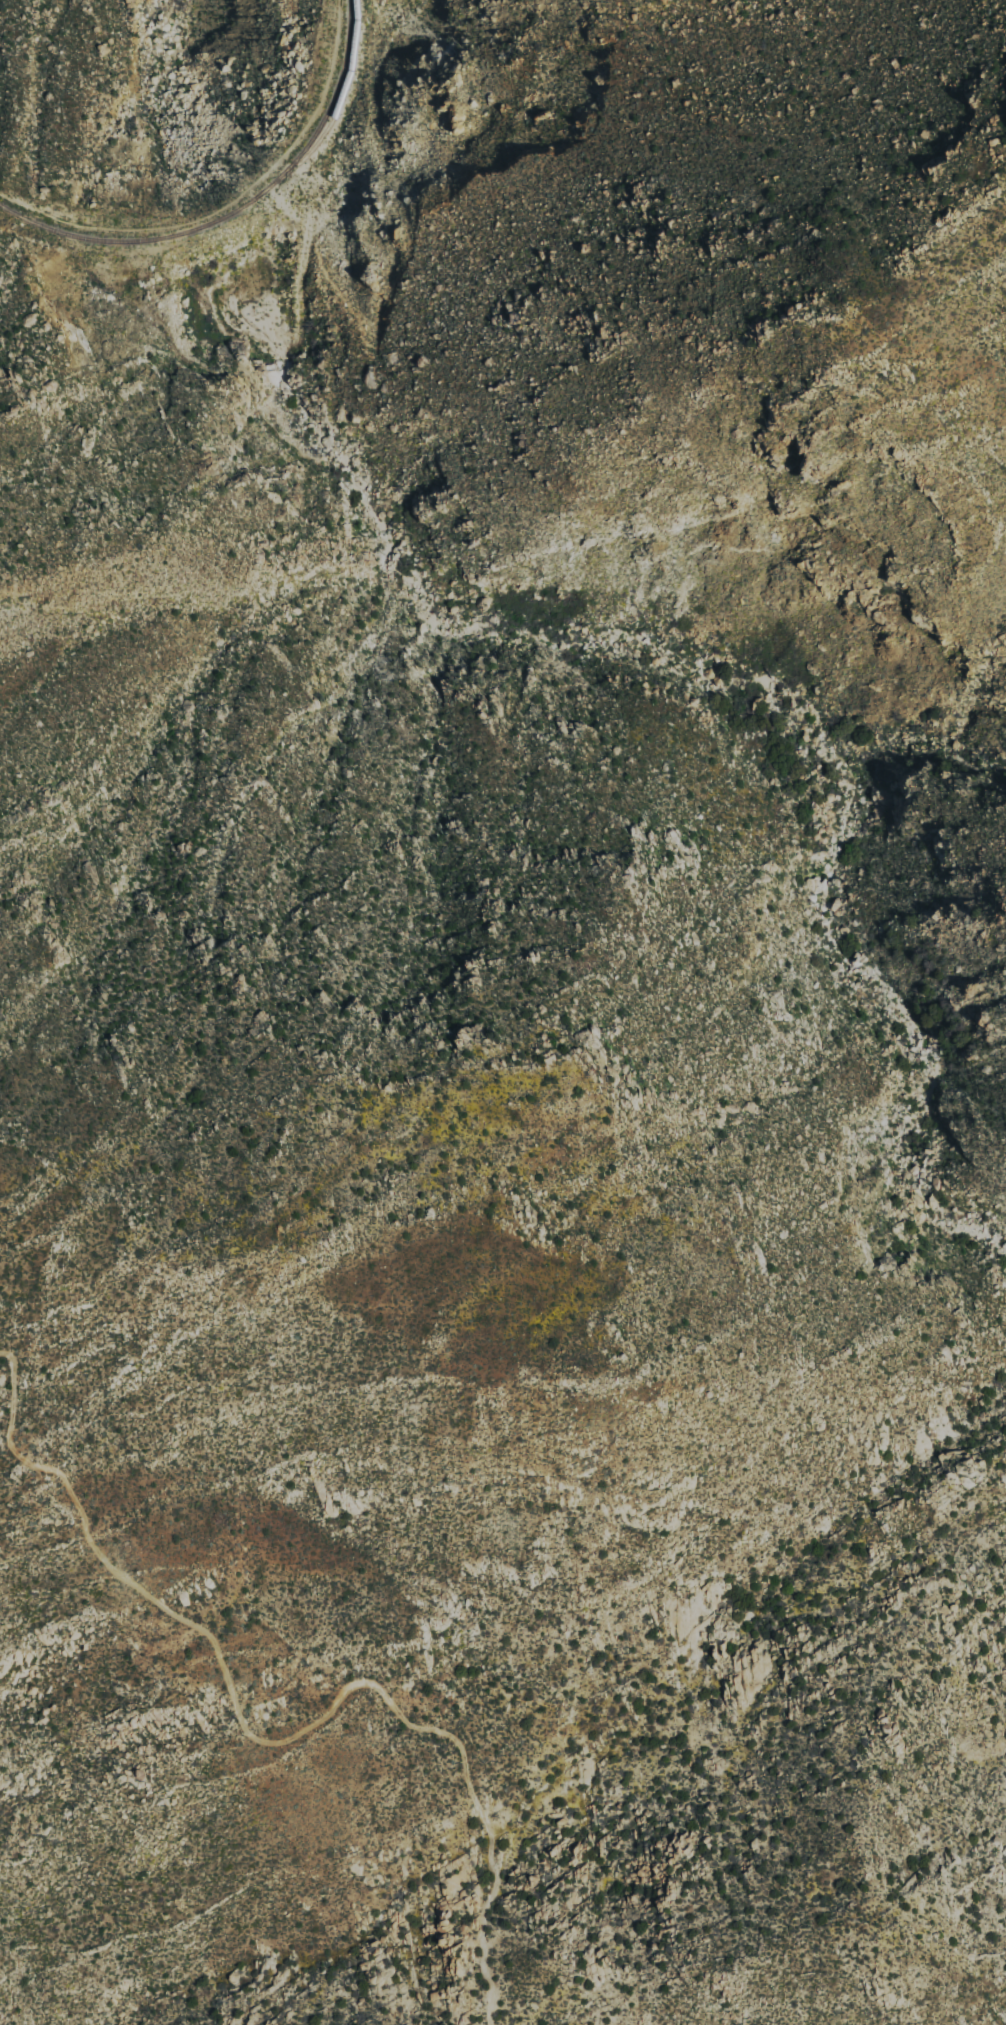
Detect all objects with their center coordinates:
railway: (340, 105)
road: (231, 207)
railway: (237, 211)
road: (273, 1742)

